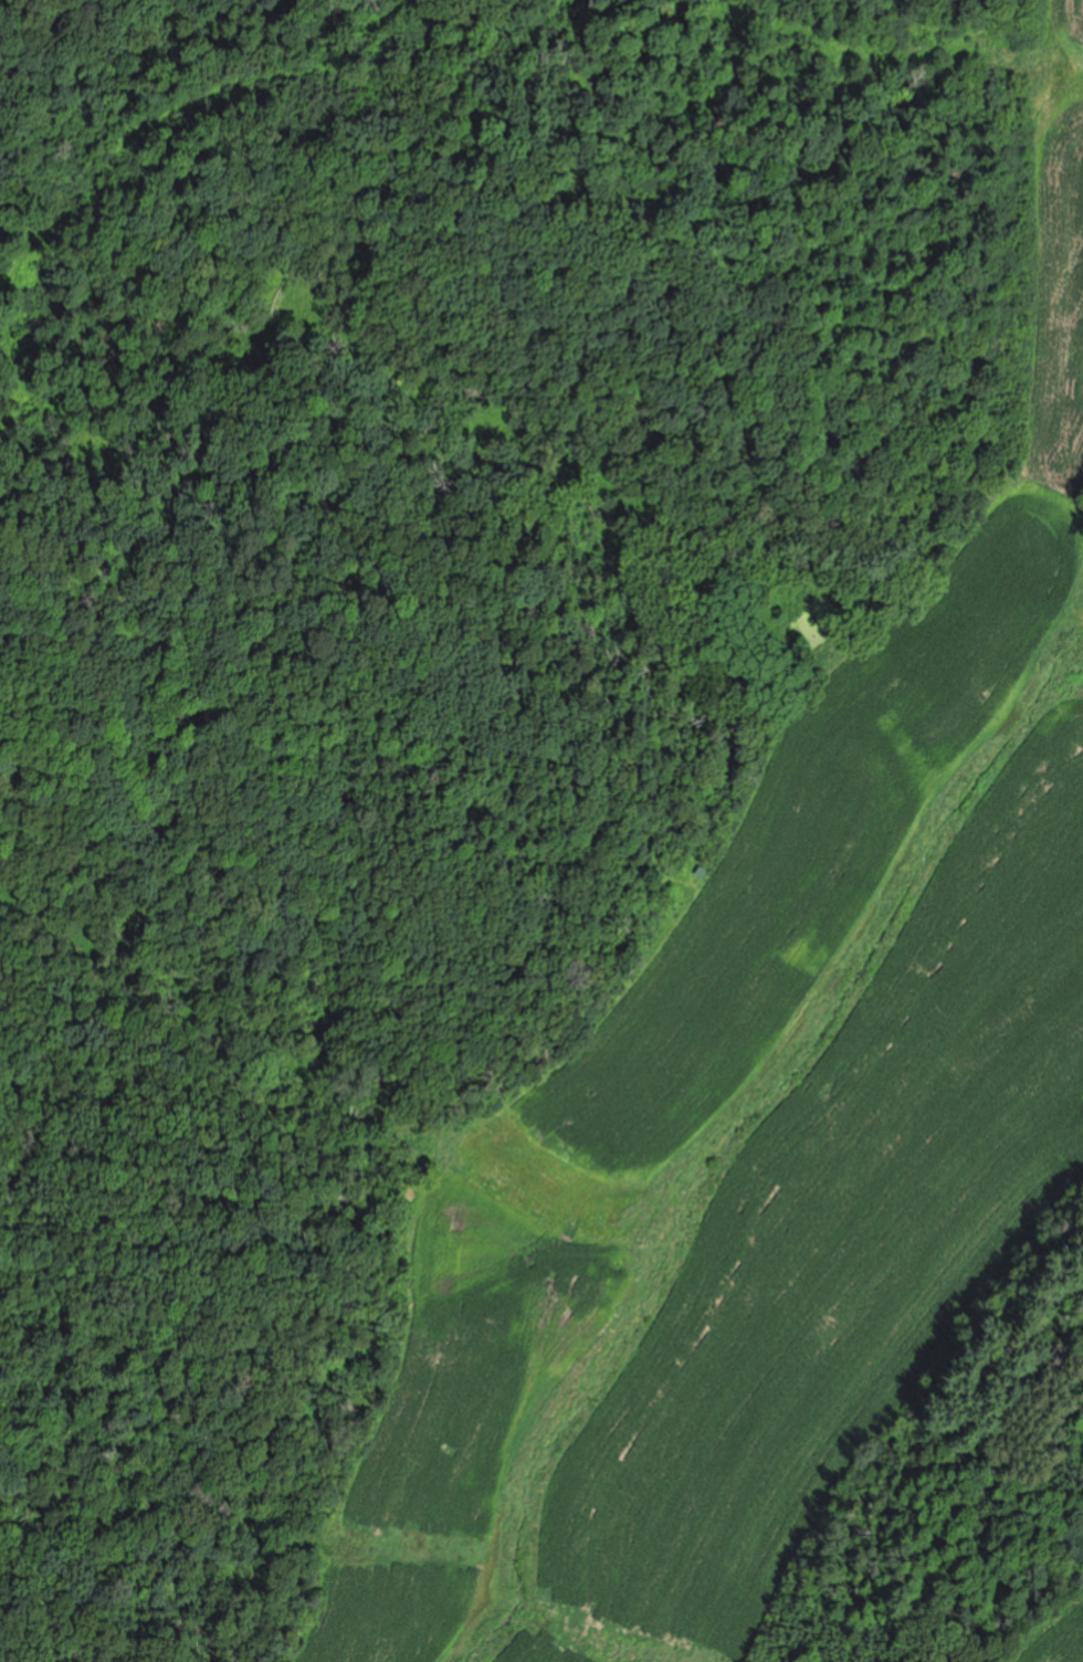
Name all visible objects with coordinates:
road: (1073, 625)

